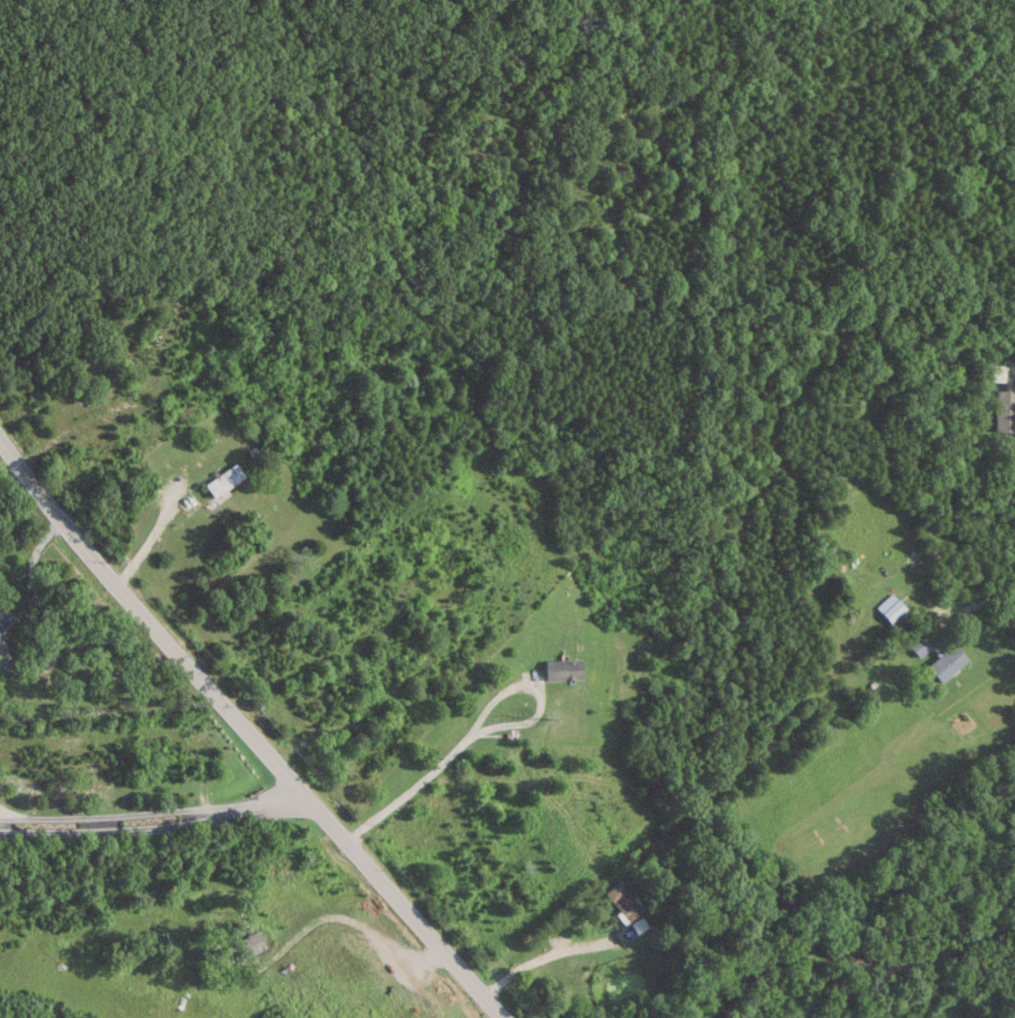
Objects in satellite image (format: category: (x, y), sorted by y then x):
building: (996, 372)
building: (1004, 410)
building: (222, 480)
road: (151, 535)
road: (995, 602)
building: (891, 611)
building: (4, 618)
road: (44, 618)
road: (146, 621)
building: (919, 645)
building: (945, 663)
building: (561, 669)
road: (479, 721)
road: (152, 820)
building: (621, 902)
road: (403, 904)
building: (673, 934)
road: (549, 952)

